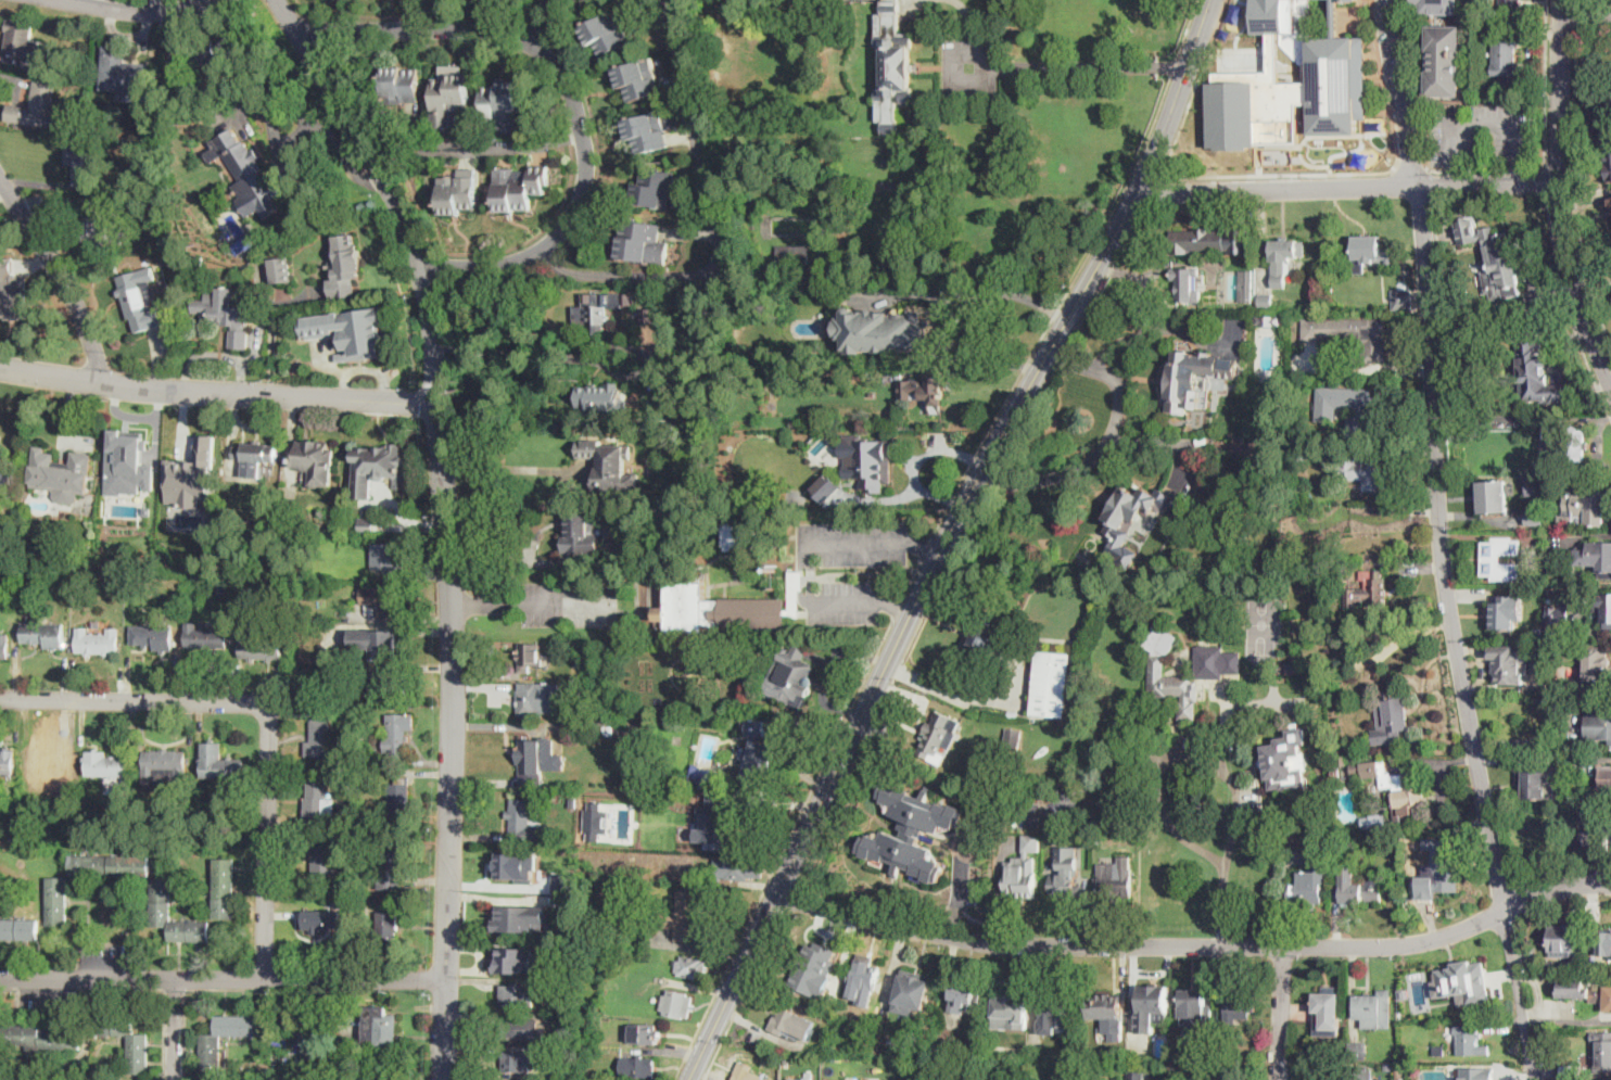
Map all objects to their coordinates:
road: (1601, 2)
building: (1442, 7)
building: (1509, 7)
road: (144, 8)
road: (1577, 11)
road: (1586, 11)
building: (1274, 16)
road: (533, 17)
road: (1594, 27)
road: (1217, 31)
building: (607, 33)
building: (23, 42)
building: (214, 52)
building: (1506, 55)
building: (1446, 61)
building: (893, 66)
road: (1069, 66)
building: (68, 76)
building: (124, 79)
building: (637, 79)
building: (1336, 82)
road: (1544, 82)
building: (399, 86)
road: (570, 91)
road: (1401, 93)
building: (449, 94)
road: (1177, 97)
building: (1607, 98)
building: (502, 105)
building: (30, 106)
building: (1254, 112)
road: (1185, 120)
road: (1484, 122)
road: (318, 125)
building: (92, 127)
building: (650, 130)
road: (509, 143)
parking lot: (1454, 143)
building: (83, 164)
building: (1608, 166)
road: (1559, 168)
road: (1486, 169)
road: (1412, 170)
road: (1519, 170)
building: (246, 171)
road: (1456, 171)
road: (1285, 175)
road: (1545, 181)
road: (1576, 183)
building: (519, 187)
road: (1348, 188)
building: (654, 189)
road: (1154, 190)
building: (457, 194)
road: (1561, 198)
building: (1610, 200)
road: (711, 220)
building: (107, 224)
building: (256, 237)
building: (1203, 241)
building: (640, 242)
building: (243, 246)
building: (1371, 253)
building: (792, 256)
building: (1283, 259)
building: (1500, 265)
building: (345, 266)
building: (248, 267)
building: (281, 269)
road: (1077, 272)
road: (58, 275)
building: (1185, 284)
building: (1246, 284)
road: (986, 289)
building: (871, 291)
building: (13, 294)
building: (139, 301)
building: (1266, 301)
building: (1404, 301)
road: (1570, 308)
building: (225, 314)
building: (593, 315)
building: (687, 316)
building: (648, 317)
building: (1268, 320)
building: (953, 325)
building: (885, 329)
road: (1156, 330)
building: (355, 331)
building: (1353, 334)
road: (1067, 344)
road: (576, 358)
building: (888, 367)
road: (1564, 367)
building: (757, 369)
building: (1537, 371)
building: (1305, 377)
building: (1195, 378)
building: (925, 390)
road: (218, 392)
building: (601, 401)
building: (1345, 406)
road: (1518, 417)
road: (1155, 442)
road: (1596, 442)
road: (1104, 443)
building: (1572, 446)
road: (937, 448)
building: (256, 457)
building: (1302, 458)
building: (314, 461)
building: (386, 462)
building: (867, 462)
building: (609, 465)
road: (513, 468)
building: (1365, 471)
building: (9, 473)
building: (62, 474)
building: (192, 474)
building: (132, 480)
building: (1536, 487)
building: (826, 488)
road: (904, 495)
building: (1494, 496)
building: (1129, 509)
building: (1584, 509)
building: (147, 510)
building: (322, 512)
building: (1535, 518)
road: (446, 520)
building: (366, 526)
building: (150, 532)
building: (580, 532)
building: (732, 536)
building: (1245, 536)
parking lot: (858, 541)
road: (928, 545)
building: (1550, 555)
building: (13, 557)
building: (388, 557)
building: (1600, 558)
building: (1499, 559)
building: (1531, 559)
road: (810, 560)
building: (1305, 567)
building: (42, 570)
building: (11, 573)
building: (294, 575)
road: (914, 575)
building: (223, 587)
building: (1369, 589)
building: (795, 593)
building: (385, 600)
parking lot: (569, 602)
parking lot: (847, 602)
road: (486, 603)
road: (566, 603)
road: (899, 607)
building: (1604, 608)
building: (716, 609)
building: (1504, 612)
building: (1555, 615)
road: (908, 619)
building: (45, 632)
road: (1454, 635)
building: (153, 636)
building: (206, 636)
building: (97, 641)
building: (1018, 641)
building: (392, 644)
building: (4, 646)
building: (987, 646)
building: (261, 647)
building: (530, 657)
building: (328, 660)
building: (1206, 660)
building: (1508, 663)
building: (1596, 664)
building: (1156, 668)
building: (1292, 668)
building: (332, 669)
building: (790, 676)
road: (890, 684)
building: (1052, 684)
building: (391, 687)
road: (956, 693)
building: (538, 697)
building: (647, 699)
road: (268, 707)
building: (722, 709)
building: (578, 712)
building: (1014, 713)
building: (1393, 716)
building: (1598, 726)
building: (756, 728)
building: (608, 730)
building: (938, 734)
building: (398, 735)
building: (319, 738)
building: (350, 739)
building: (1013, 739)
building: (351, 751)
building: (1286, 759)
building: (537, 760)
building: (758, 760)
building: (1339, 761)
building: (7, 762)
building: (219, 763)
building: (105, 764)
building: (51, 765)
building: (164, 765)
building: (1367, 768)
building: (1336, 771)
building: (1608, 774)
building: (701, 775)
building: (1536, 783)
building: (341, 792)
building: (1407, 795)
road: (1160, 796)
building: (398, 799)
building: (318, 802)
building: (1061, 804)
building: (1350, 805)
road: (1234, 817)
building: (370, 819)
building: (595, 821)
building: (1375, 821)
building: (523, 824)
building: (715, 824)
building: (911, 833)
building: (1607, 833)
road: (973, 834)
building: (350, 835)
building: (1096, 837)
building: (1584, 839)
building: (1292, 842)
road: (782, 849)
building: (325, 859)
building: (109, 864)
building: (517, 865)
building: (389, 867)
building: (738, 868)
building: (1438, 873)
building: (1022, 879)
building: (1117, 879)
building: (563, 881)
building: (1065, 886)
building: (223, 887)
building: (1356, 887)
building: (1305, 893)
road: (790, 898)
building: (161, 899)
building: (56, 900)
building: (519, 917)
building: (682, 917)
building: (321, 919)
building: (388, 925)
building: (18, 928)
building: (1564, 939)
building: (1604, 942)
road: (1196, 946)
building: (565, 952)
building: (518, 961)
building: (1548, 963)
building: (690, 967)
building: (808, 974)
building: (864, 974)
road: (221, 978)
building: (563, 981)
building: (1462, 982)
building: (915, 986)
building: (1584, 991)
building: (964, 992)
building: (1403, 993)
road: (743, 994)
building: (517, 995)
building: (1192, 1001)
building: (676, 1004)
building: (1240, 1005)
building: (1010, 1006)
building: (1104, 1007)
building: (1150, 1007)
building: (1374, 1009)
building: (1057, 1011)
building: (1327, 1012)
road: (1282, 1014)
building: (1569, 1014)
building: (791, 1024)
road: (176, 1029)
building: (380, 1029)
building: (521, 1029)
building: (1165, 1029)
building: (643, 1033)
building: (40, 1038)
building: (561, 1041)
building: (1470, 1041)
building: (1603, 1050)
building: (1358, 1051)
building: (1439, 1051)
building: (138, 1052)
building: (211, 1057)
building: (1557, 1060)
building: (516, 1062)
building: (565, 1062)
building: (637, 1066)
building: (1388, 1067)
road: (694, 1068)
building: (940, 1068)
building: (562, 1070)
building: (746, 1072)
building: (1569, 1072)
building: (1357, 1073)
building: (1475, 1073)
building: (385, 1076)
building: (1134, 1076)
building: (1149, 1078)
building: (800, 1079)
building: (1165, 1079)

